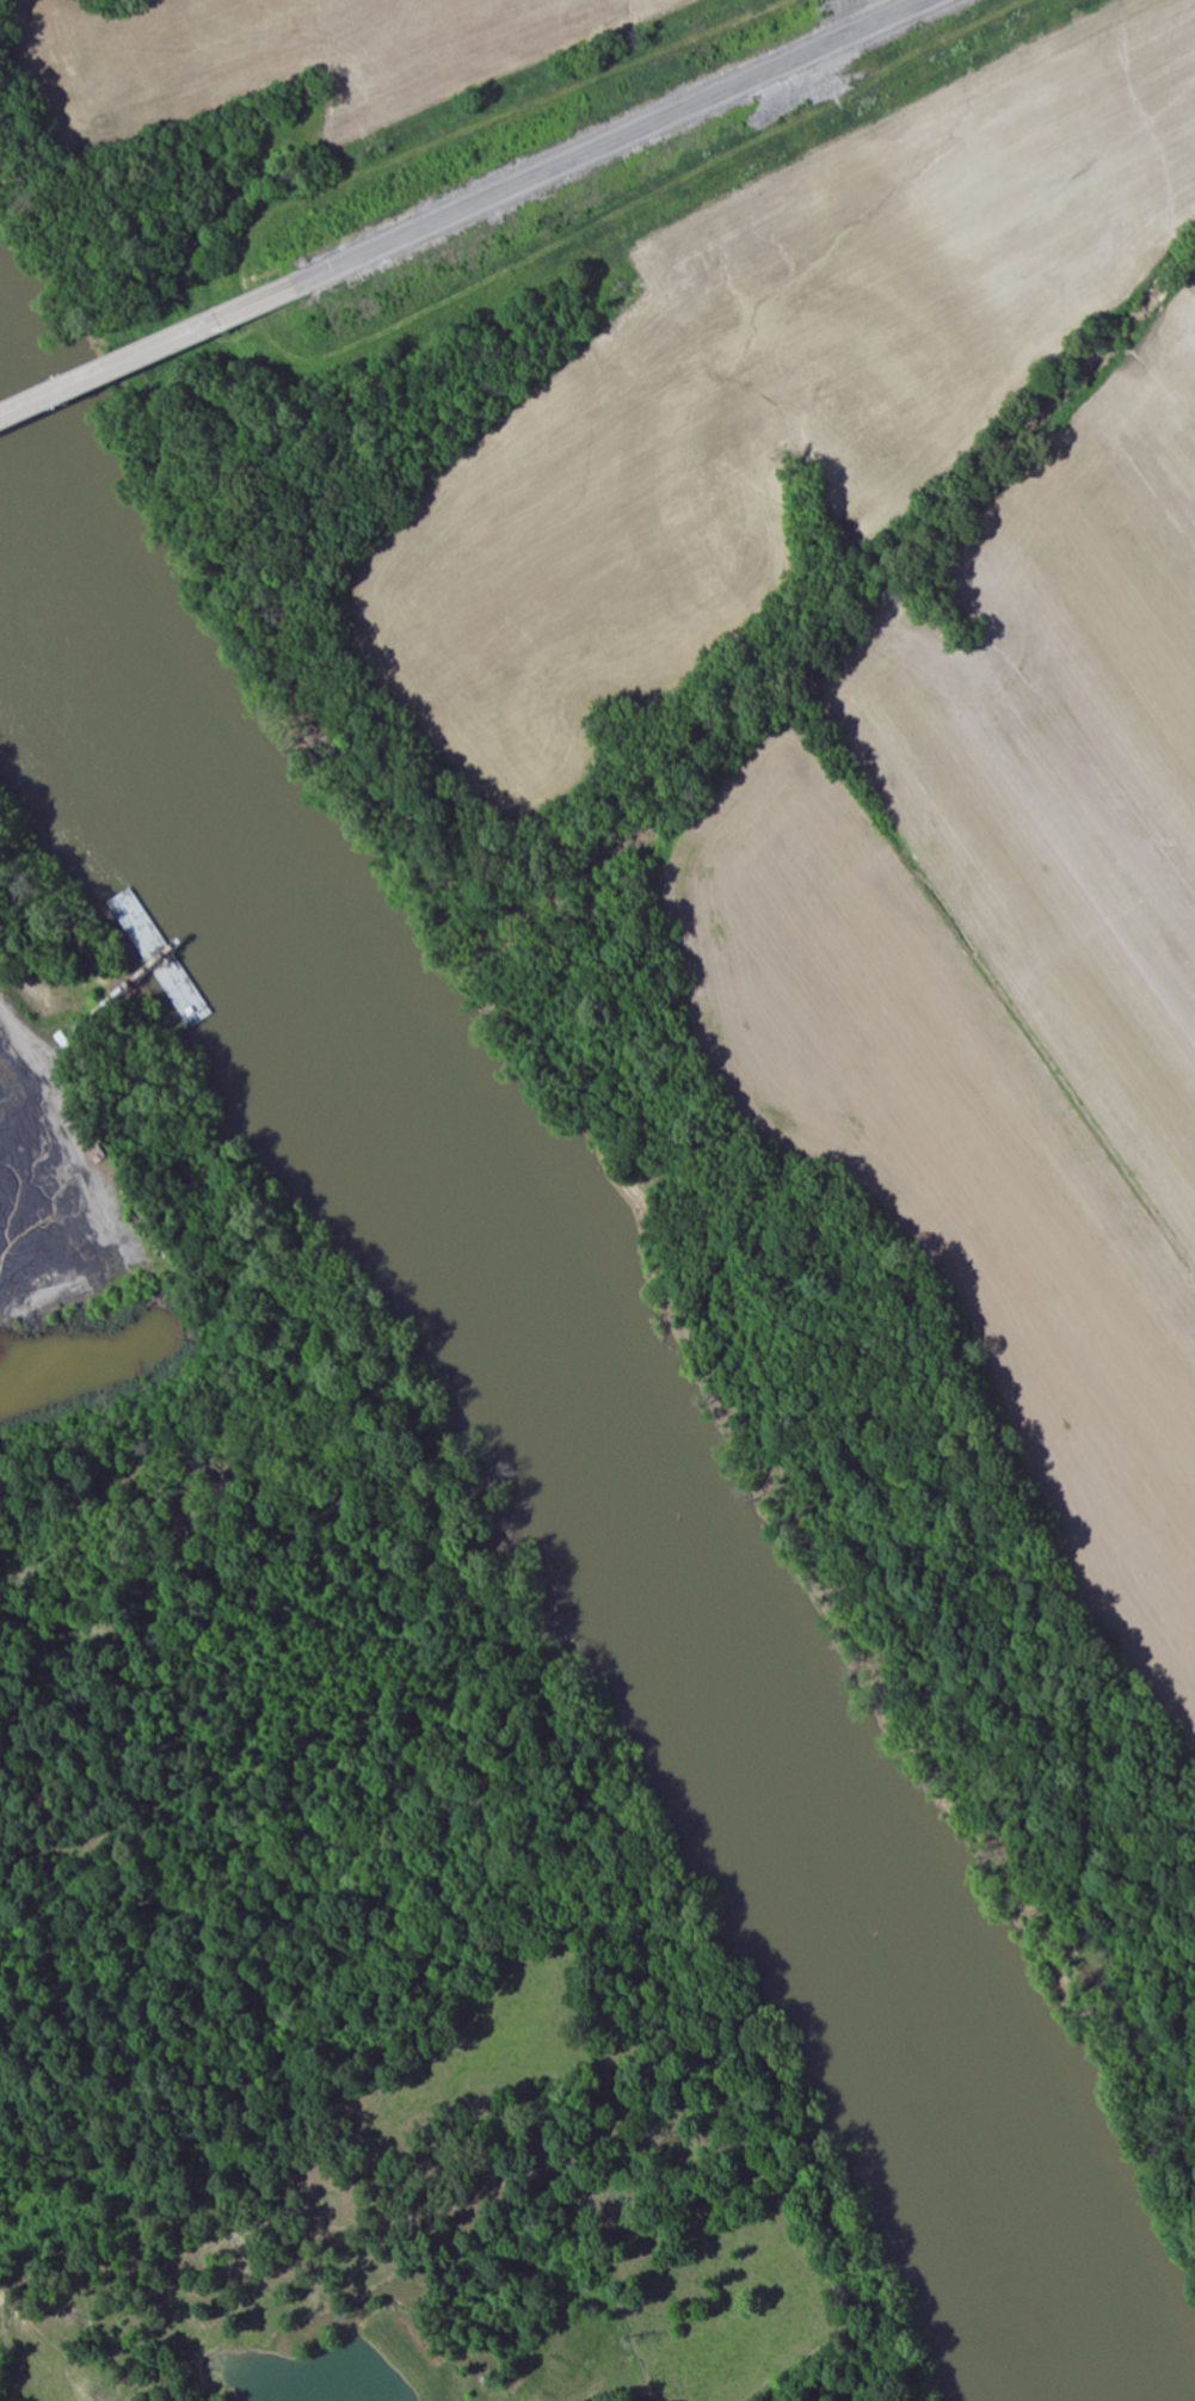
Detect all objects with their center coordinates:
road: (611, 143)
road: (147, 356)
road: (23, 1027)
river: (563, 1425)

